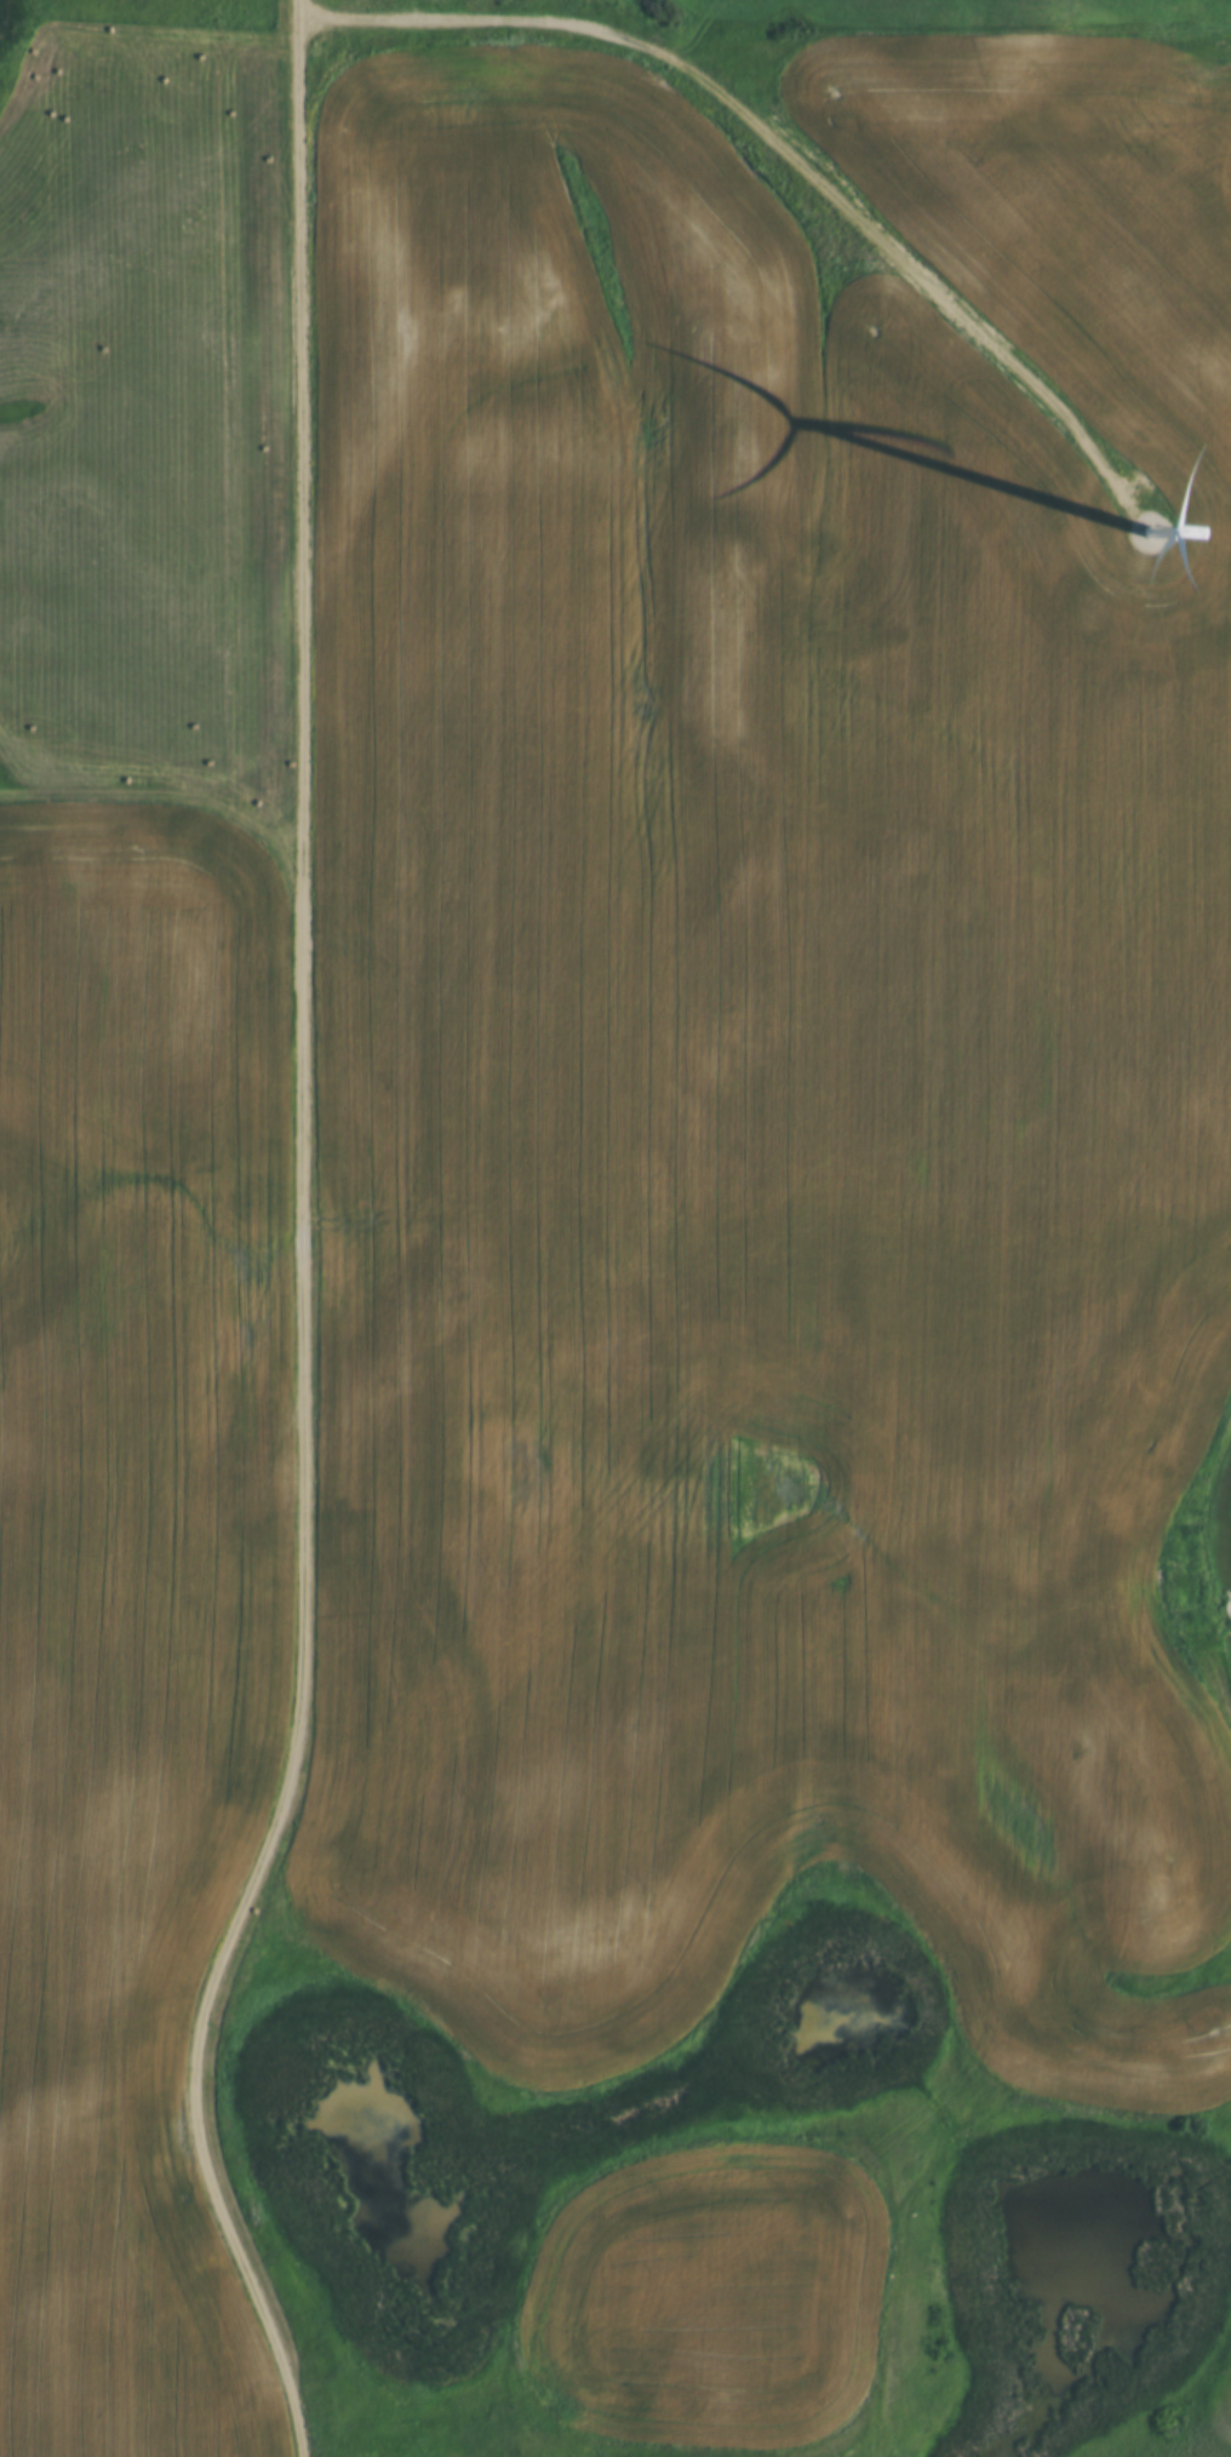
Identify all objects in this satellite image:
wind turbine: (1152, 534)
road: (162, 789)
road: (298, 1247)

